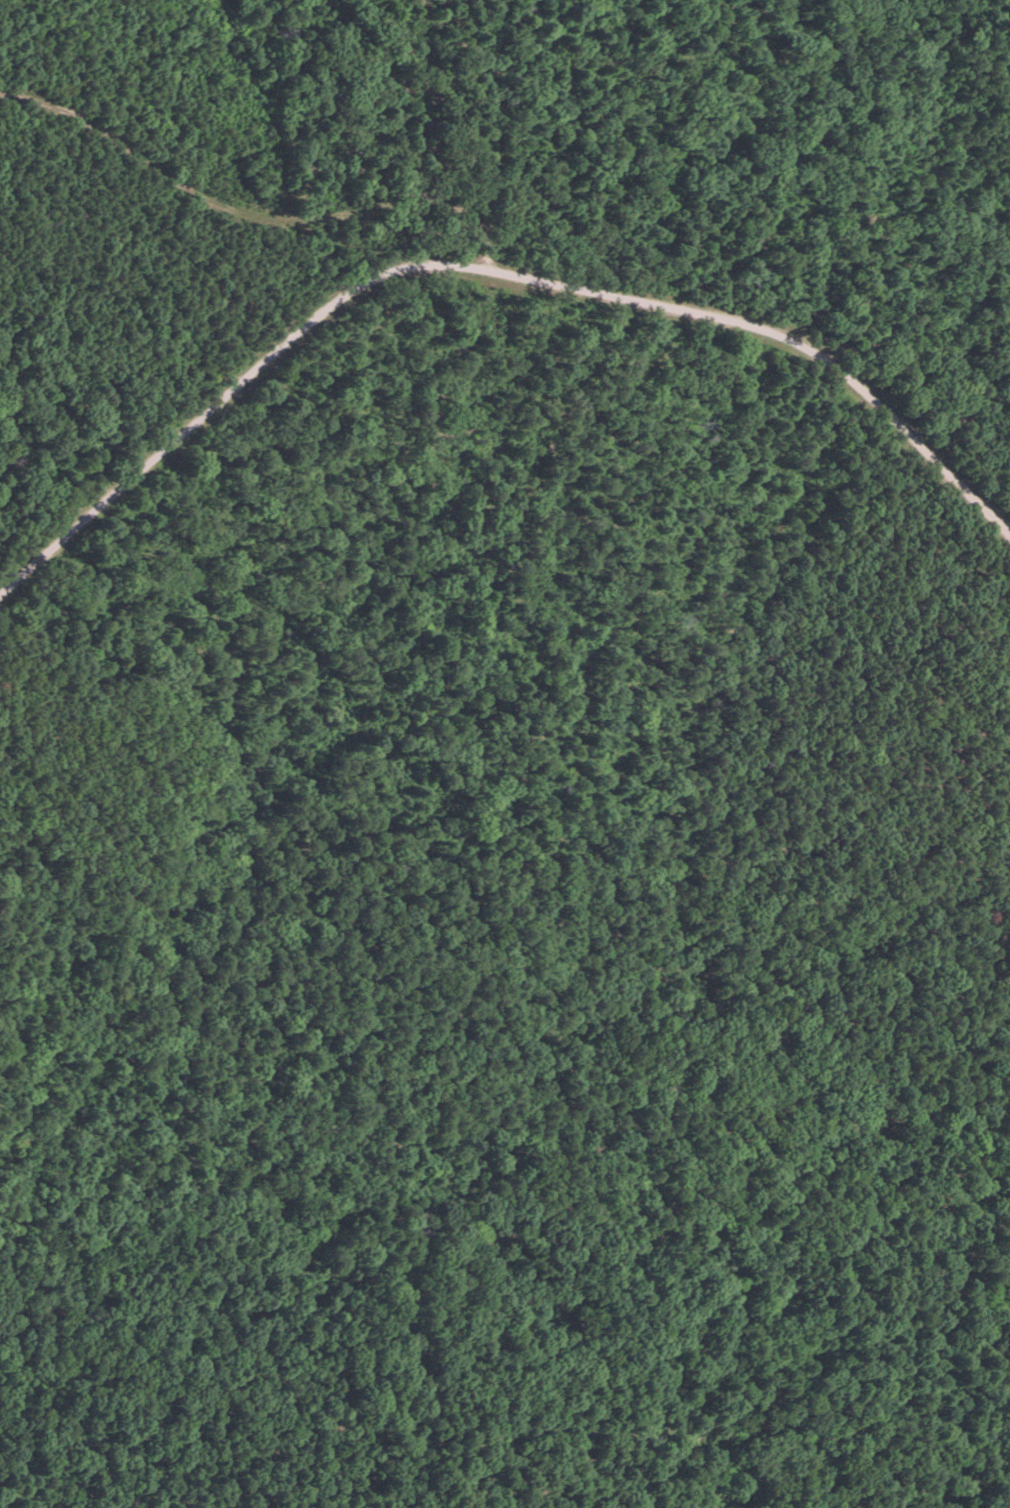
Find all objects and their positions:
road: (487, 271)

